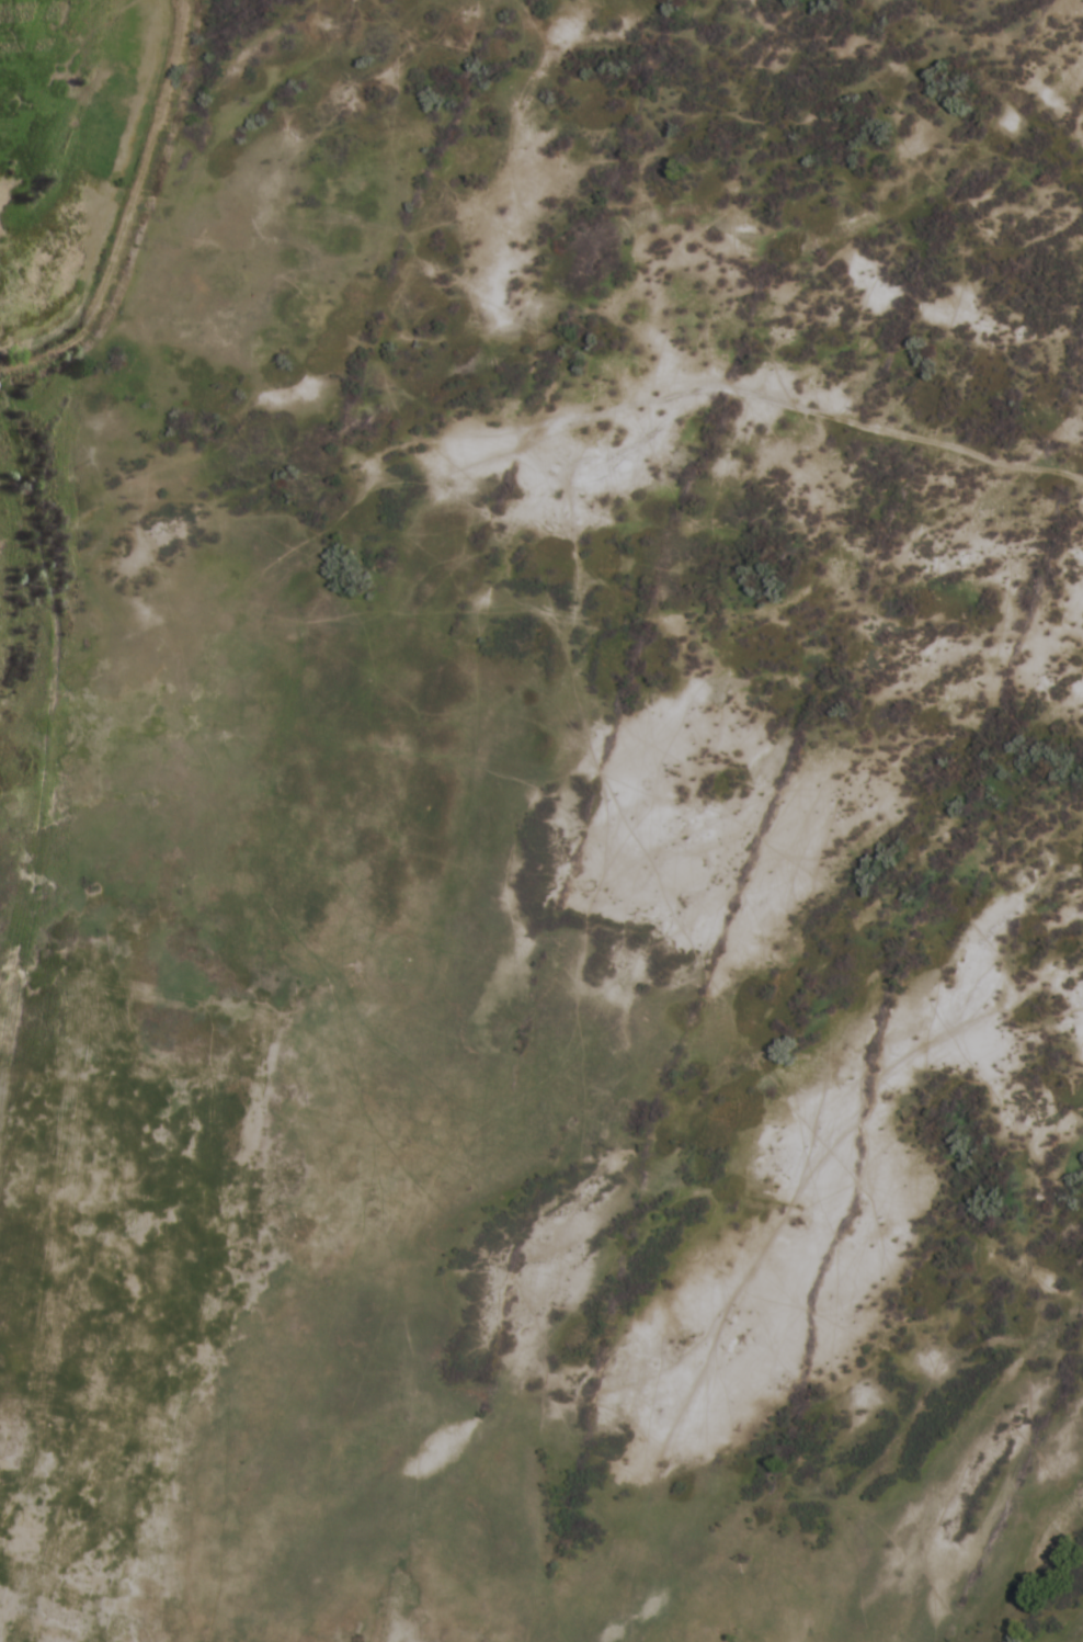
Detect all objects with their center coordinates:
road: (133, 213)
road: (890, 431)
road: (392, 446)
road: (557, 446)

